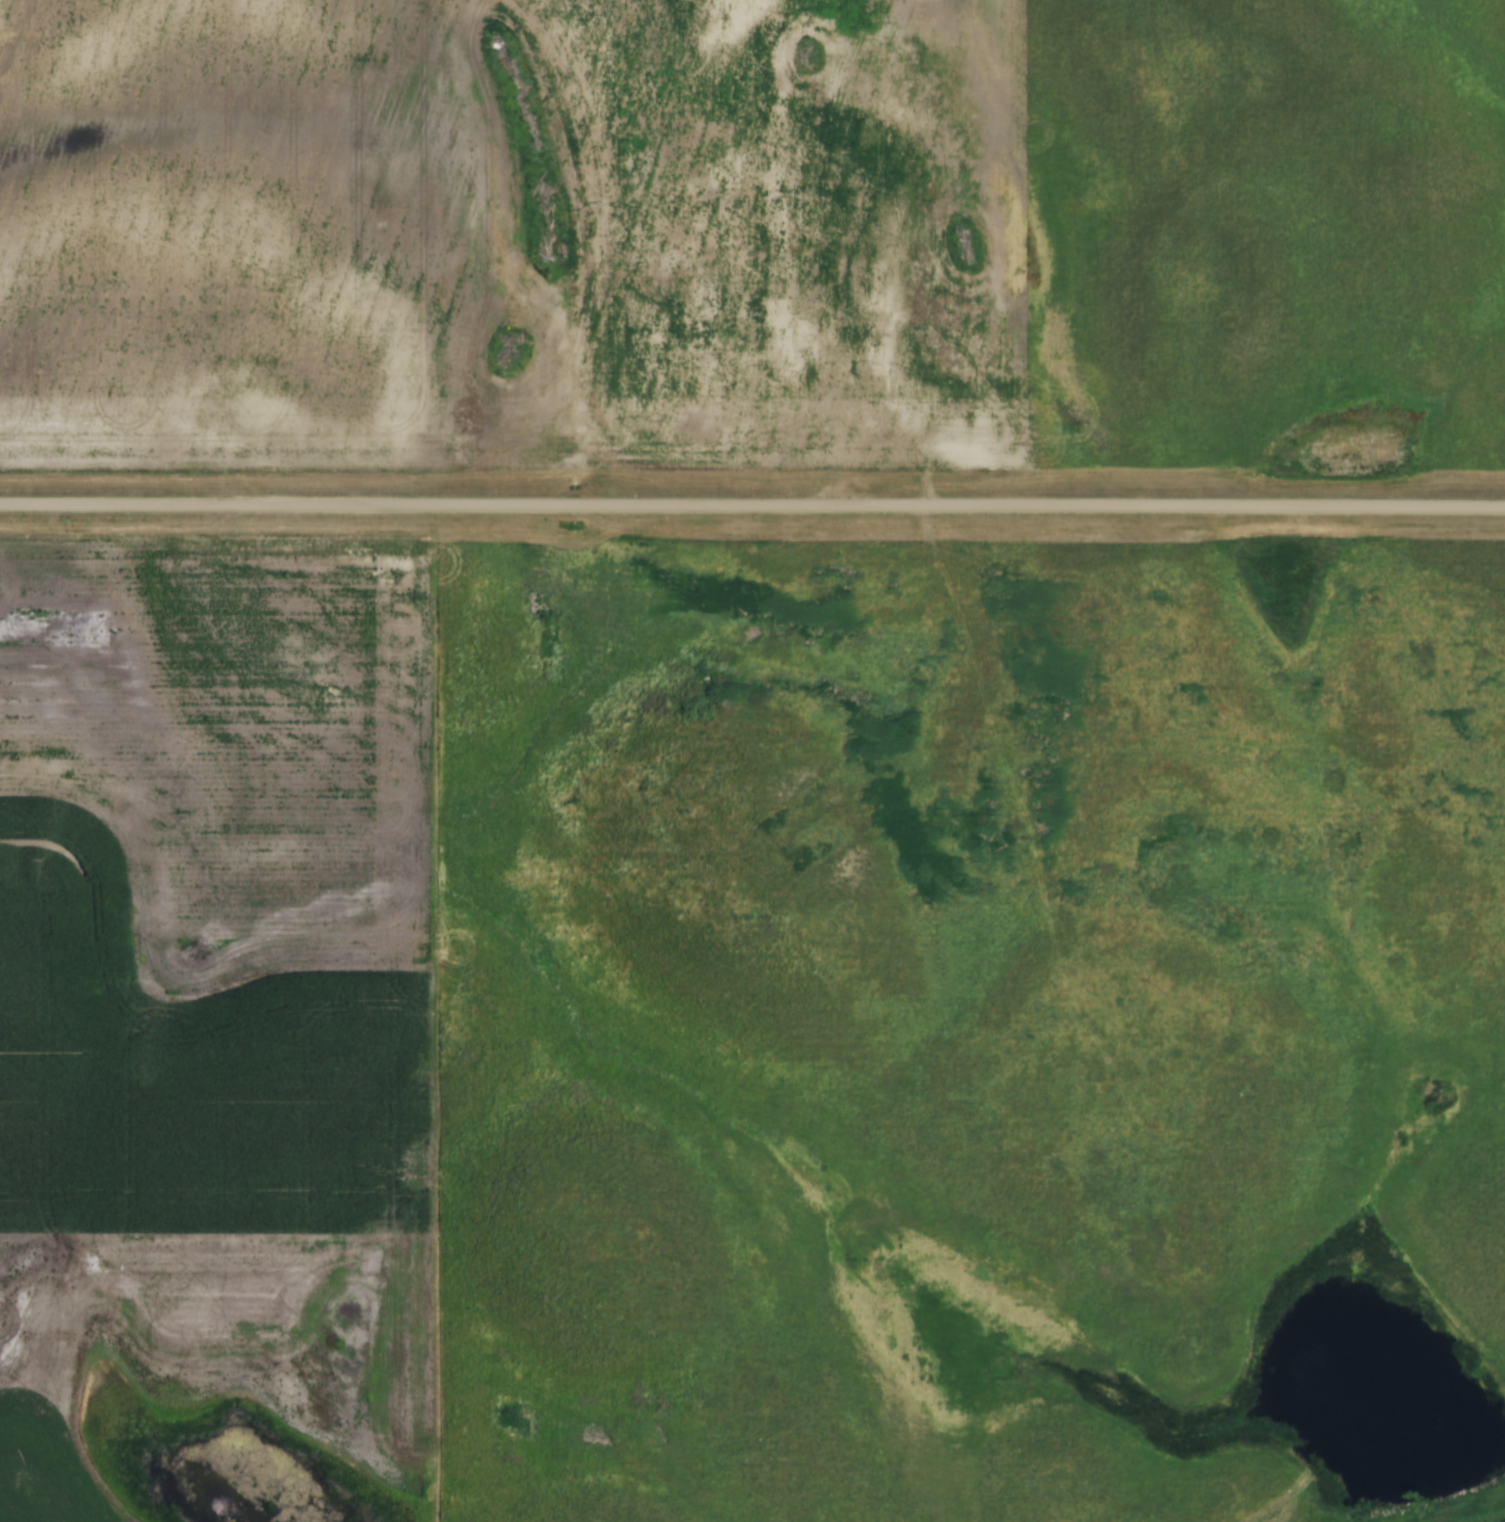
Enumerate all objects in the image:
building: (870, 290)
building: (816, 321)
road: (752, 502)

